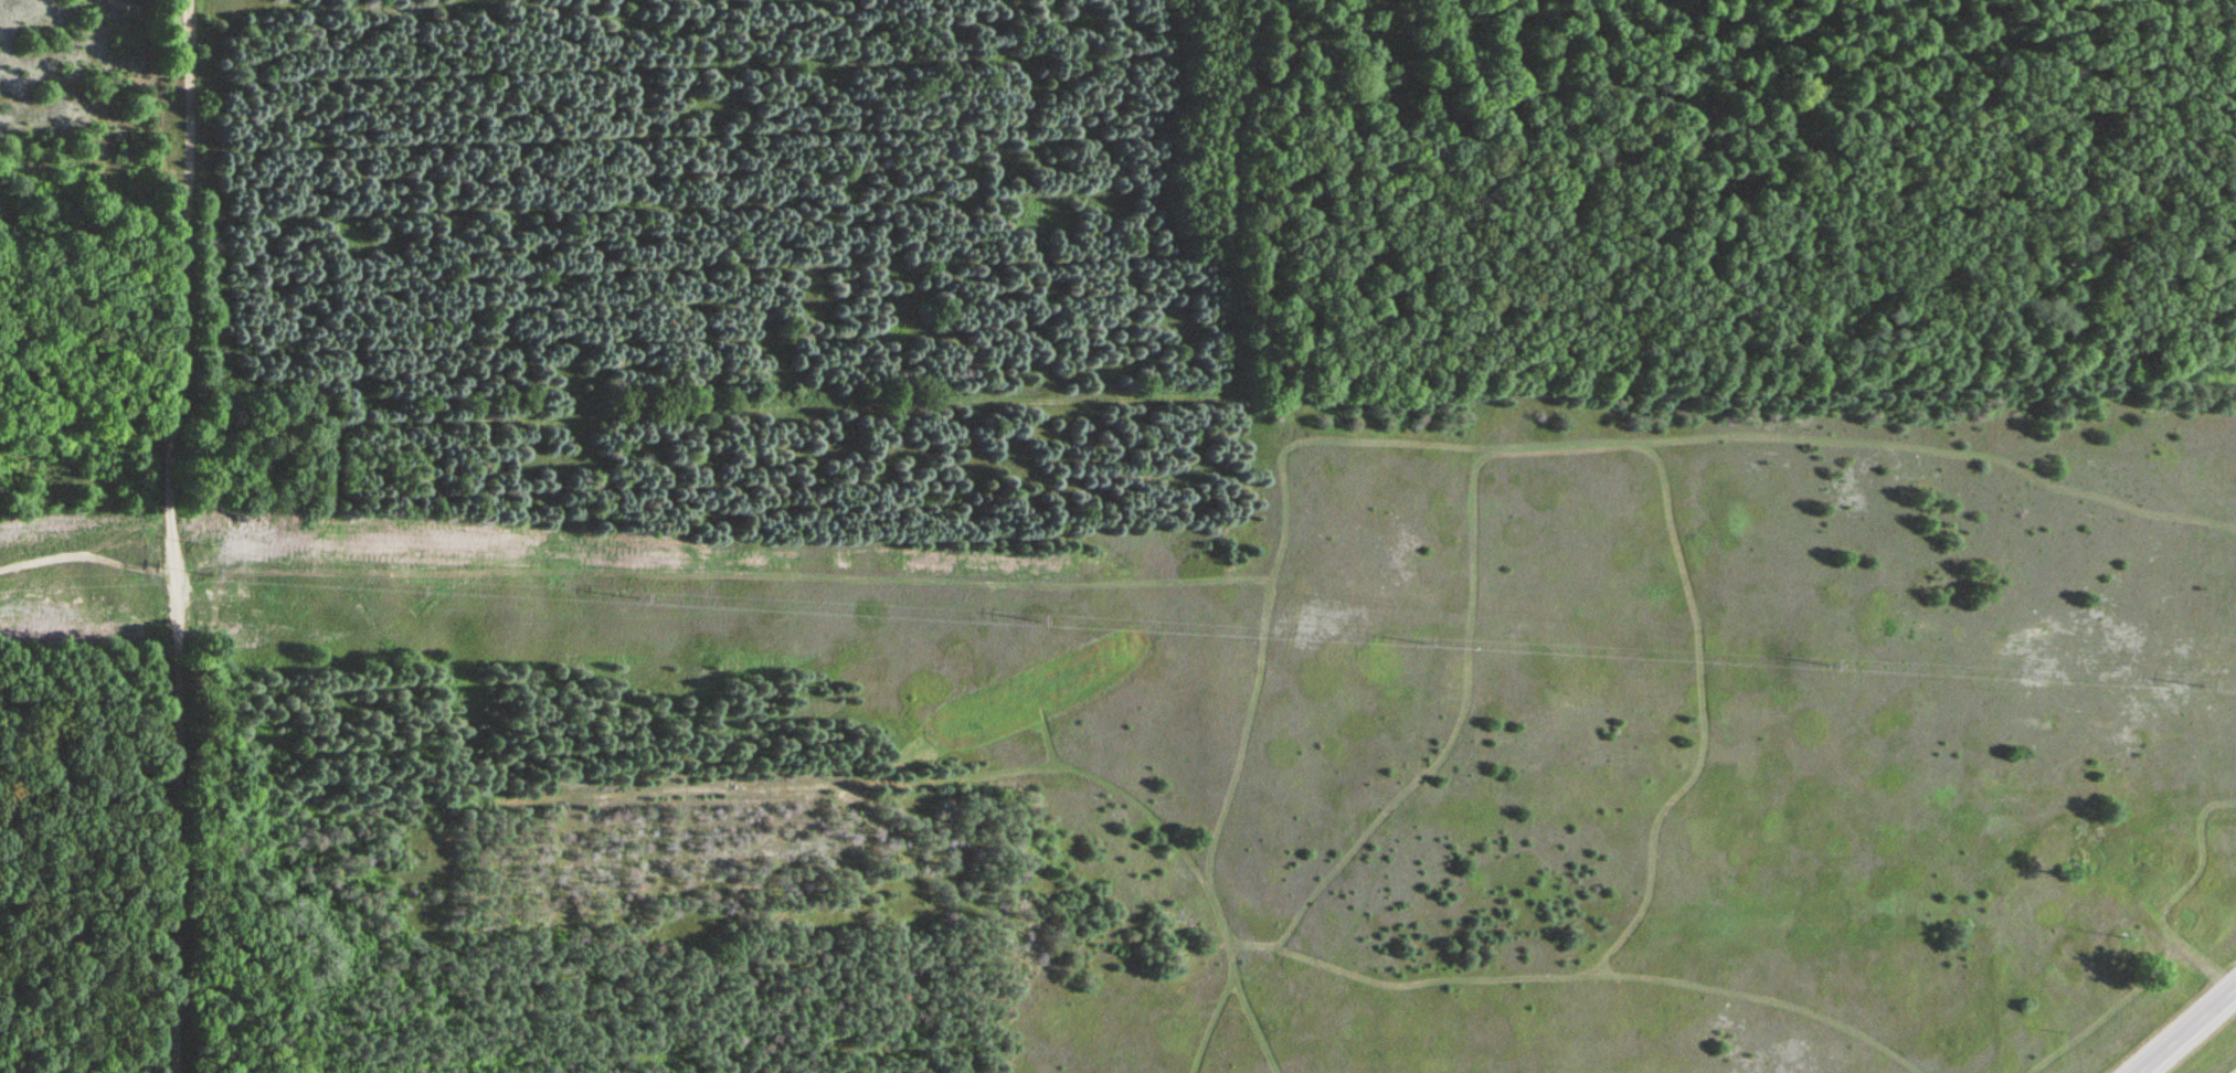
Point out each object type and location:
road: (172, 535)
road: (2186, 1030)

